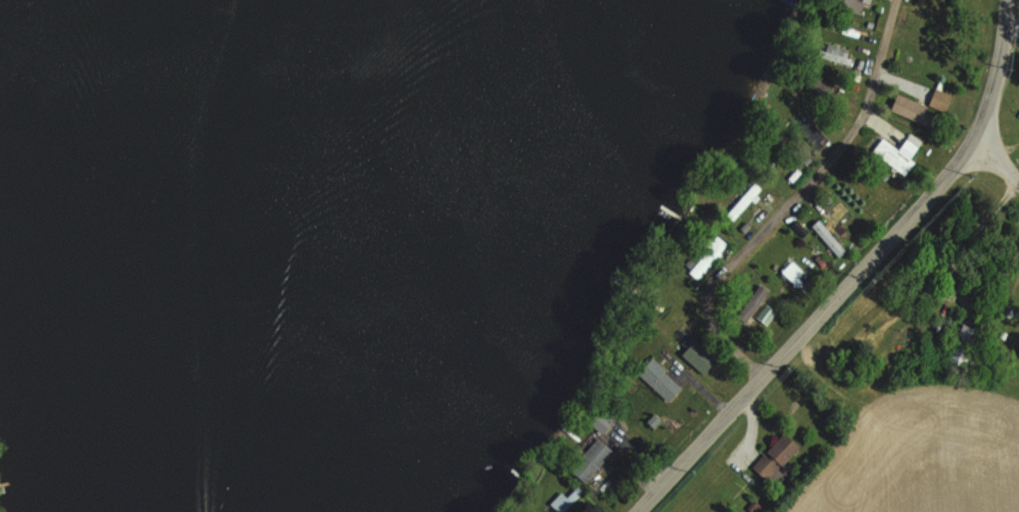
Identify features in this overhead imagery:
building: (870, 0)
building: (846, 5)
road: (1012, 38)
building: (838, 54)
building: (820, 85)
building: (897, 153)
road: (996, 164)
building: (742, 198)
road: (766, 222)
building: (828, 238)
building: (706, 255)
building: (794, 273)
road: (856, 274)
building: (765, 313)
building: (657, 379)
building: (776, 456)
building: (590, 460)
building: (564, 498)

